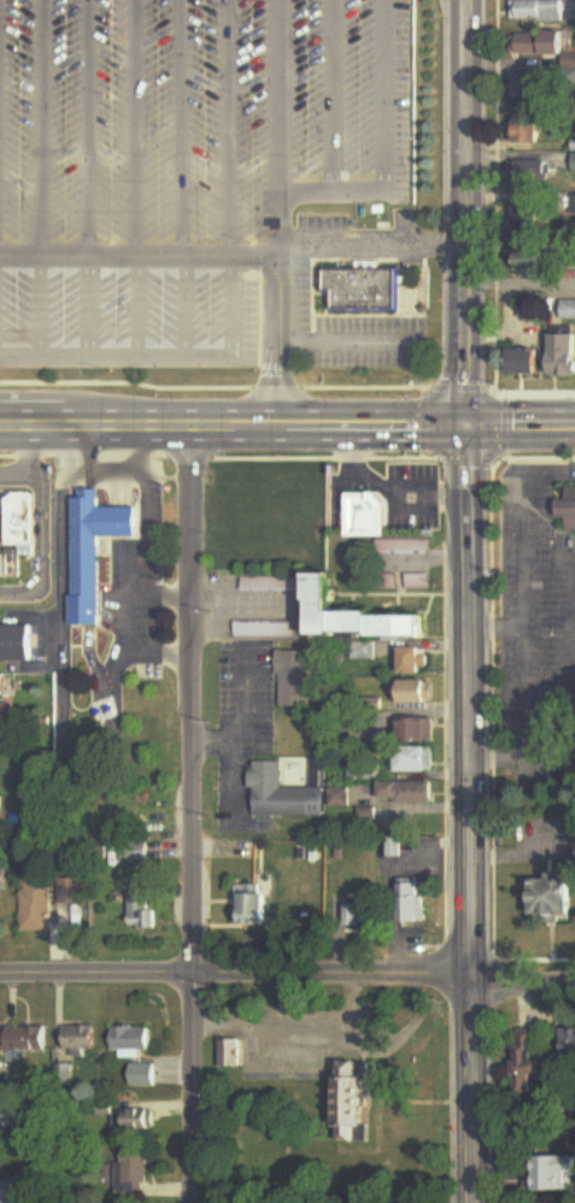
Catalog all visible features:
building: (535, 11)
building: (541, 47)
building: (533, 87)
road: (274, 118)
road: (43, 129)
road: (78, 129)
road: (141, 129)
road: (178, 129)
road: (230, 129)
building: (528, 131)
building: (530, 170)
parking lot: (230, 187)
road: (459, 213)
building: (529, 216)
road: (353, 234)
road: (221, 259)
road: (517, 284)
building: (362, 288)
building: (563, 356)
building: (524, 362)
road: (517, 429)
road: (229, 430)
building: (568, 510)
building: (366, 516)
building: (22, 521)
building: (399, 547)
building: (93, 552)
road: (522, 557)
building: (416, 582)
road: (222, 594)
building: (363, 616)
building: (264, 630)
building: (17, 644)
building: (416, 662)
building: (294, 680)
building: (417, 692)
road: (467, 698)
building: (5, 711)
building: (418, 730)
road: (230, 753)
building: (413, 761)
building: (364, 773)
building: (409, 793)
building: (284, 796)
building: (340, 798)
building: (0, 808)
road: (194, 816)
building: (395, 847)
building: (136, 853)
building: (4, 880)
building: (74, 893)
building: (555, 898)
building: (413, 904)
building: (253, 906)
building: (36, 908)
building: (140, 912)
road: (523, 970)
road: (235, 974)
road: (297, 1023)
building: (28, 1040)
building: (82, 1040)
building: (131, 1040)
building: (569, 1049)
building: (532, 1063)
building: (145, 1076)
road: (473, 1085)
building: (359, 1103)
building: (137, 1120)
building: (134, 1173)
building: (556, 1175)
building: (14, 1191)

